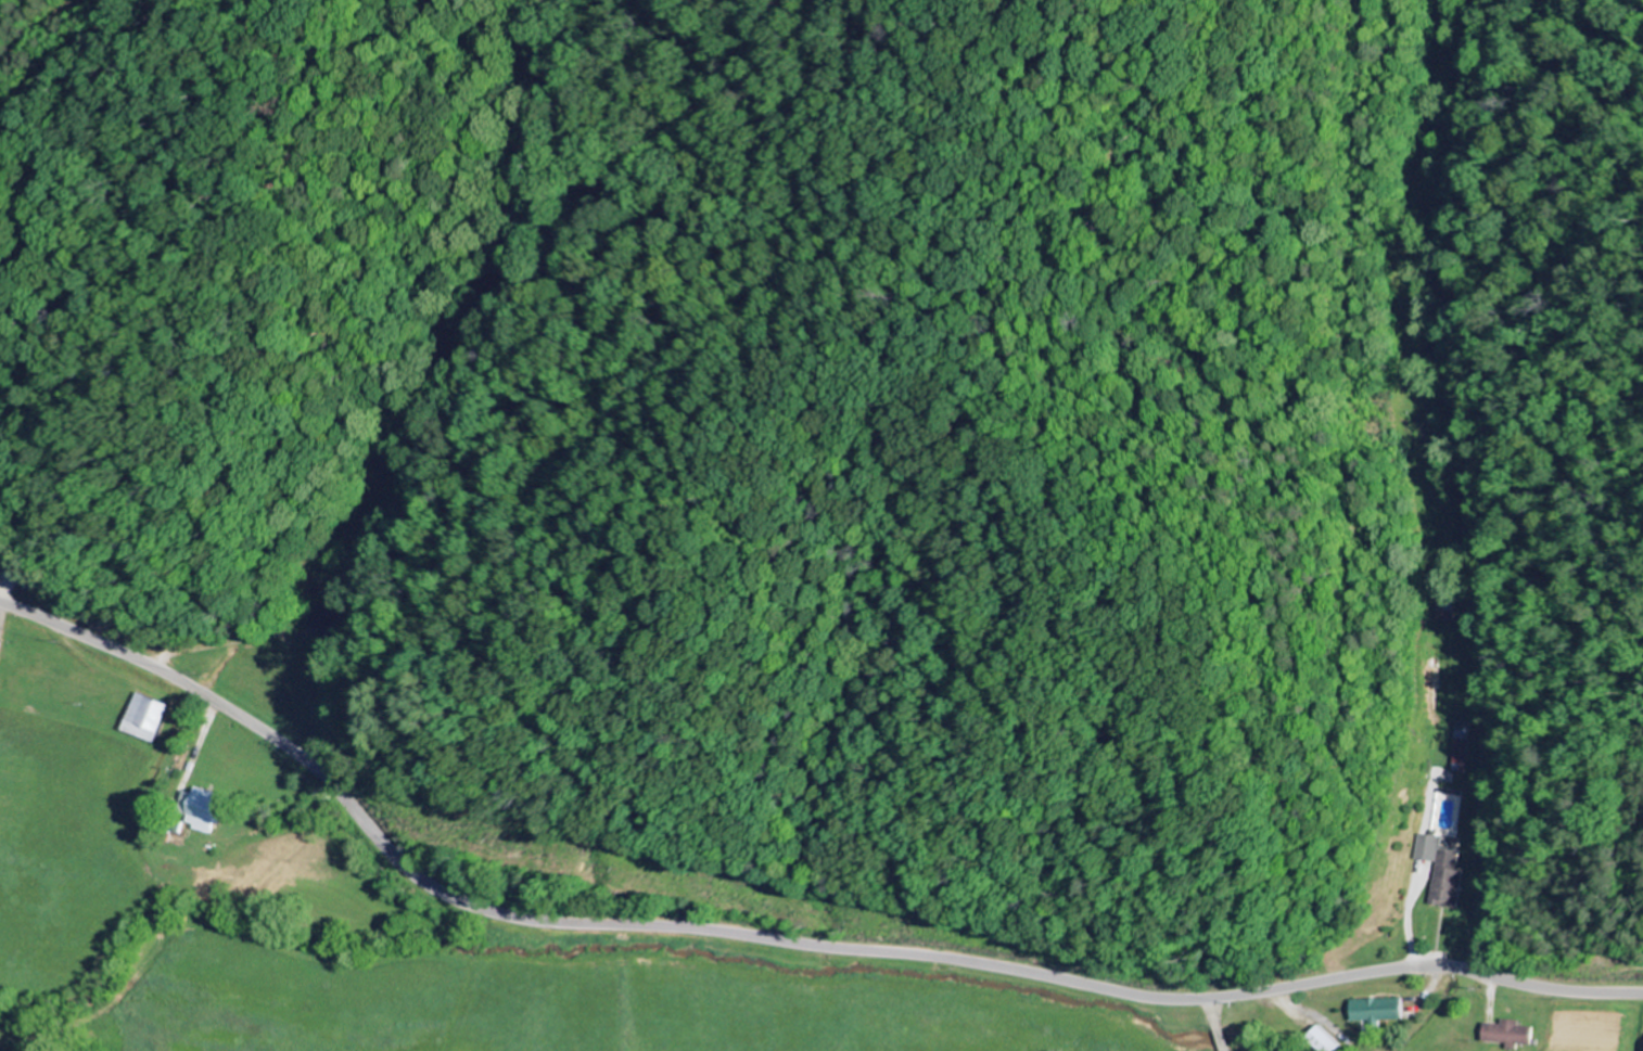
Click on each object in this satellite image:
road: (1468, 487)
building: (324, 617)
building: (1, 646)
building: (145, 719)
building: (1461, 752)
building: (203, 809)
road: (154, 855)
building: (1447, 881)
road: (777, 940)
building: (1377, 1011)
building: (1508, 1035)
building: (1325, 1041)
park: (3, 1048)

